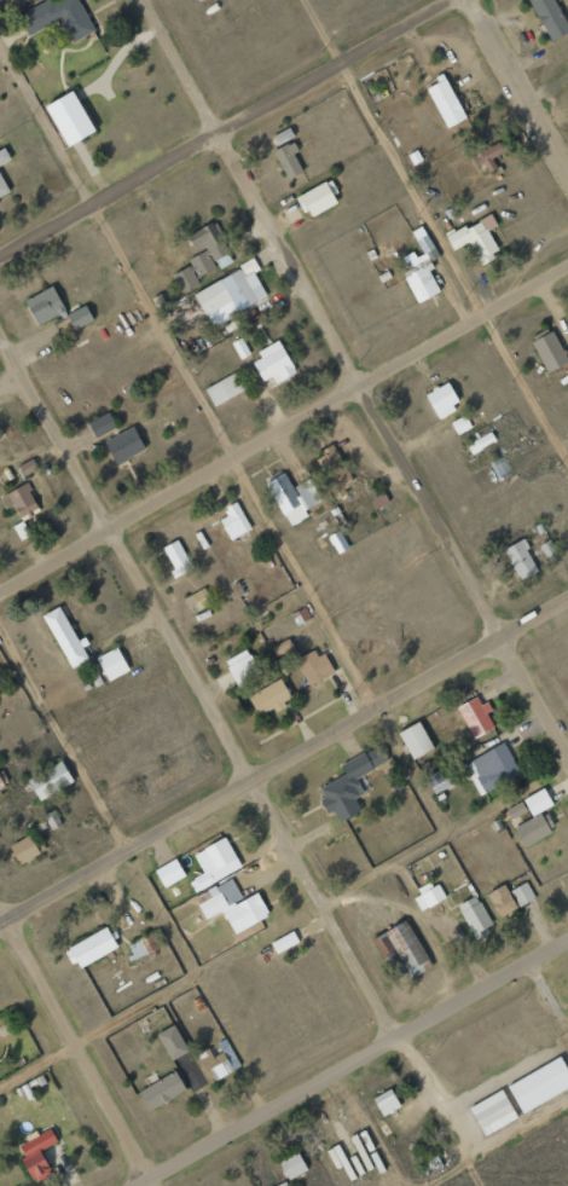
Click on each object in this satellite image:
building: (58, 17)
building: (550, 18)
road: (520, 88)
building: (445, 102)
building: (69, 118)
road: (225, 126)
building: (4, 156)
building: (487, 156)
building: (288, 161)
building: (2, 187)
building: (318, 198)
road: (437, 226)
building: (476, 238)
building: (203, 256)
building: (421, 270)
building: (231, 294)
building: (44, 305)
building: (80, 317)
building: (550, 351)
building: (273, 363)
road: (352, 377)
building: (224, 388)
building: (442, 399)
building: (102, 424)
building: (460, 424)
road: (283, 428)
road: (220, 434)
building: (481, 442)
building: (124, 446)
building: (500, 465)
building: (28, 467)
building: (335, 470)
building: (292, 498)
building: (21, 501)
building: (234, 521)
building: (338, 542)
building: (549, 551)
building: (176, 557)
building: (521, 560)
building: (198, 600)
building: (65, 637)
building: (112, 664)
building: (242, 667)
building: (314, 667)
building: (269, 698)
building: (474, 716)
building: (416, 739)
road: (231, 747)
road: (284, 760)
building: (491, 768)
building: (0, 779)
building: (440, 779)
building: (51, 780)
building: (349, 783)
road: (97, 797)
building: (537, 802)
building: (516, 809)
building: (533, 828)
building: (27, 847)
building: (214, 862)
building: (169, 872)
building: (522, 893)
building: (431, 895)
building: (502, 899)
building: (232, 904)
building: (475, 916)
road: (283, 918)
building: (284, 942)
building: (143, 944)
building: (91, 948)
building: (401, 949)
building: (567, 1014)
road: (75, 1049)
building: (181, 1058)
building: (220, 1060)
road: (353, 1063)
building: (539, 1084)
building: (161, 1090)
building: (386, 1101)
building: (492, 1112)
road: (491, 1142)
building: (36, 1153)
building: (292, 1164)
building: (282, 1184)

